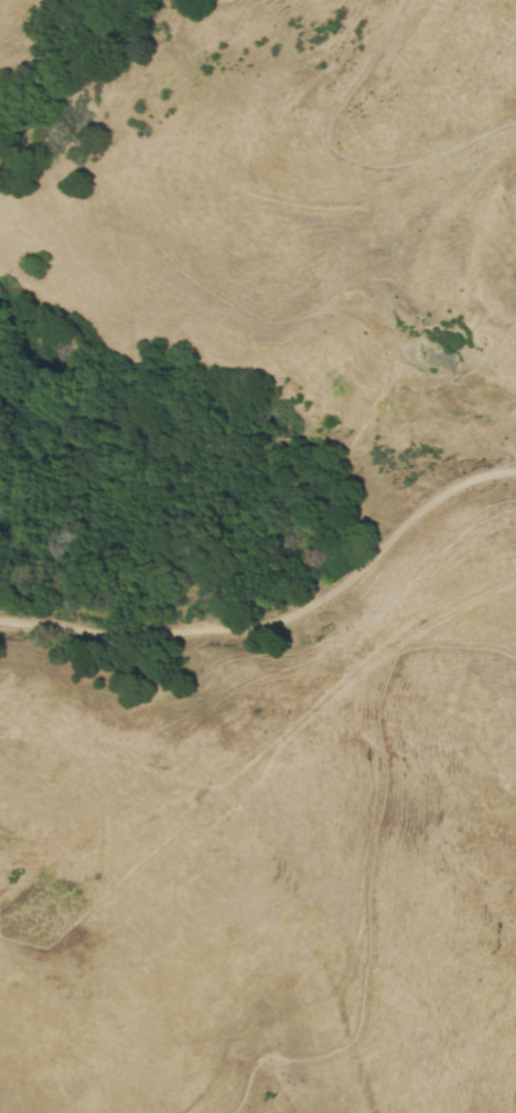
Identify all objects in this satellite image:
road: (346, 156)
road: (279, 615)
road: (370, 866)

